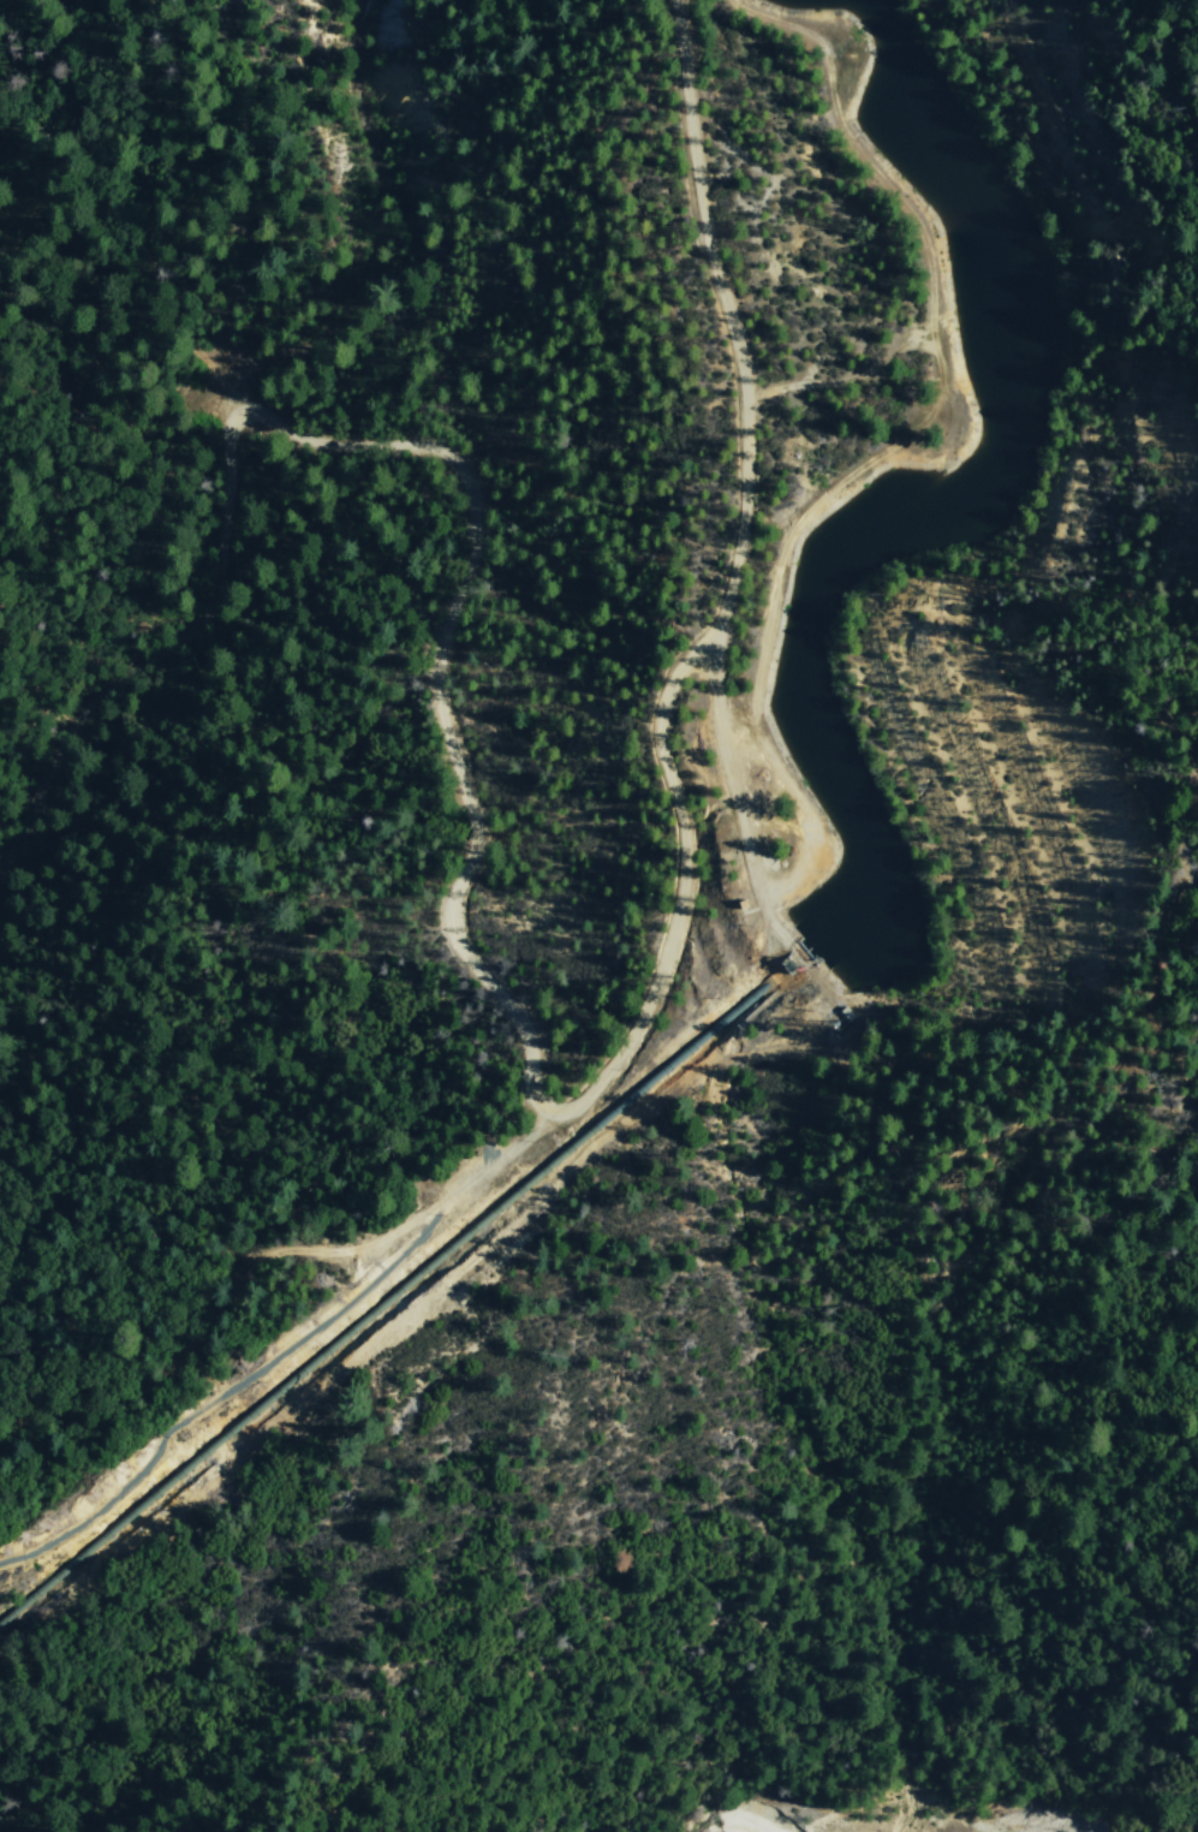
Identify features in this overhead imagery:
road: (165, 629)
road: (752, 855)
road: (645, 1011)

